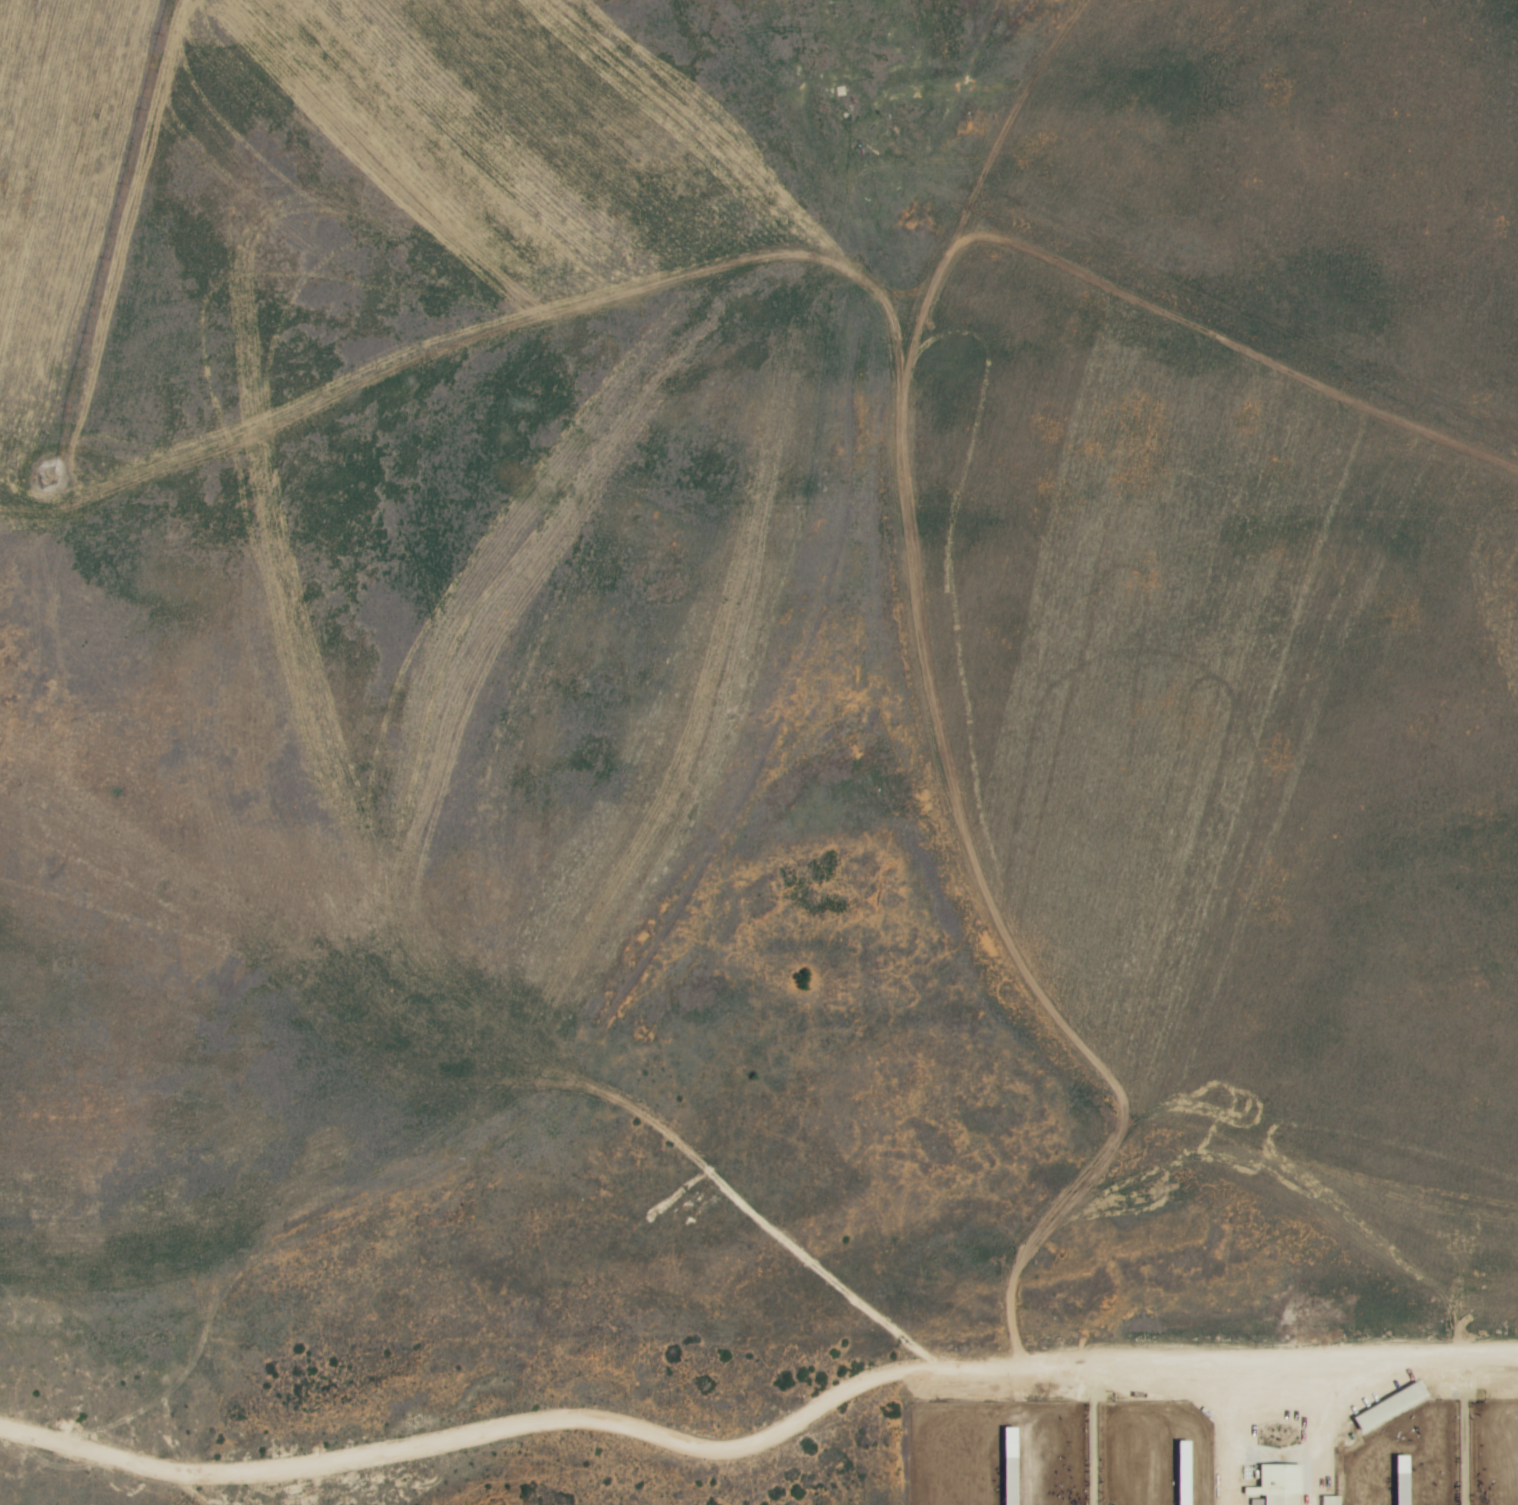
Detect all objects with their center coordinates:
building: (1392, 1407)
road: (758, 1443)
building: (1278, 1486)
building: (1331, 1501)

